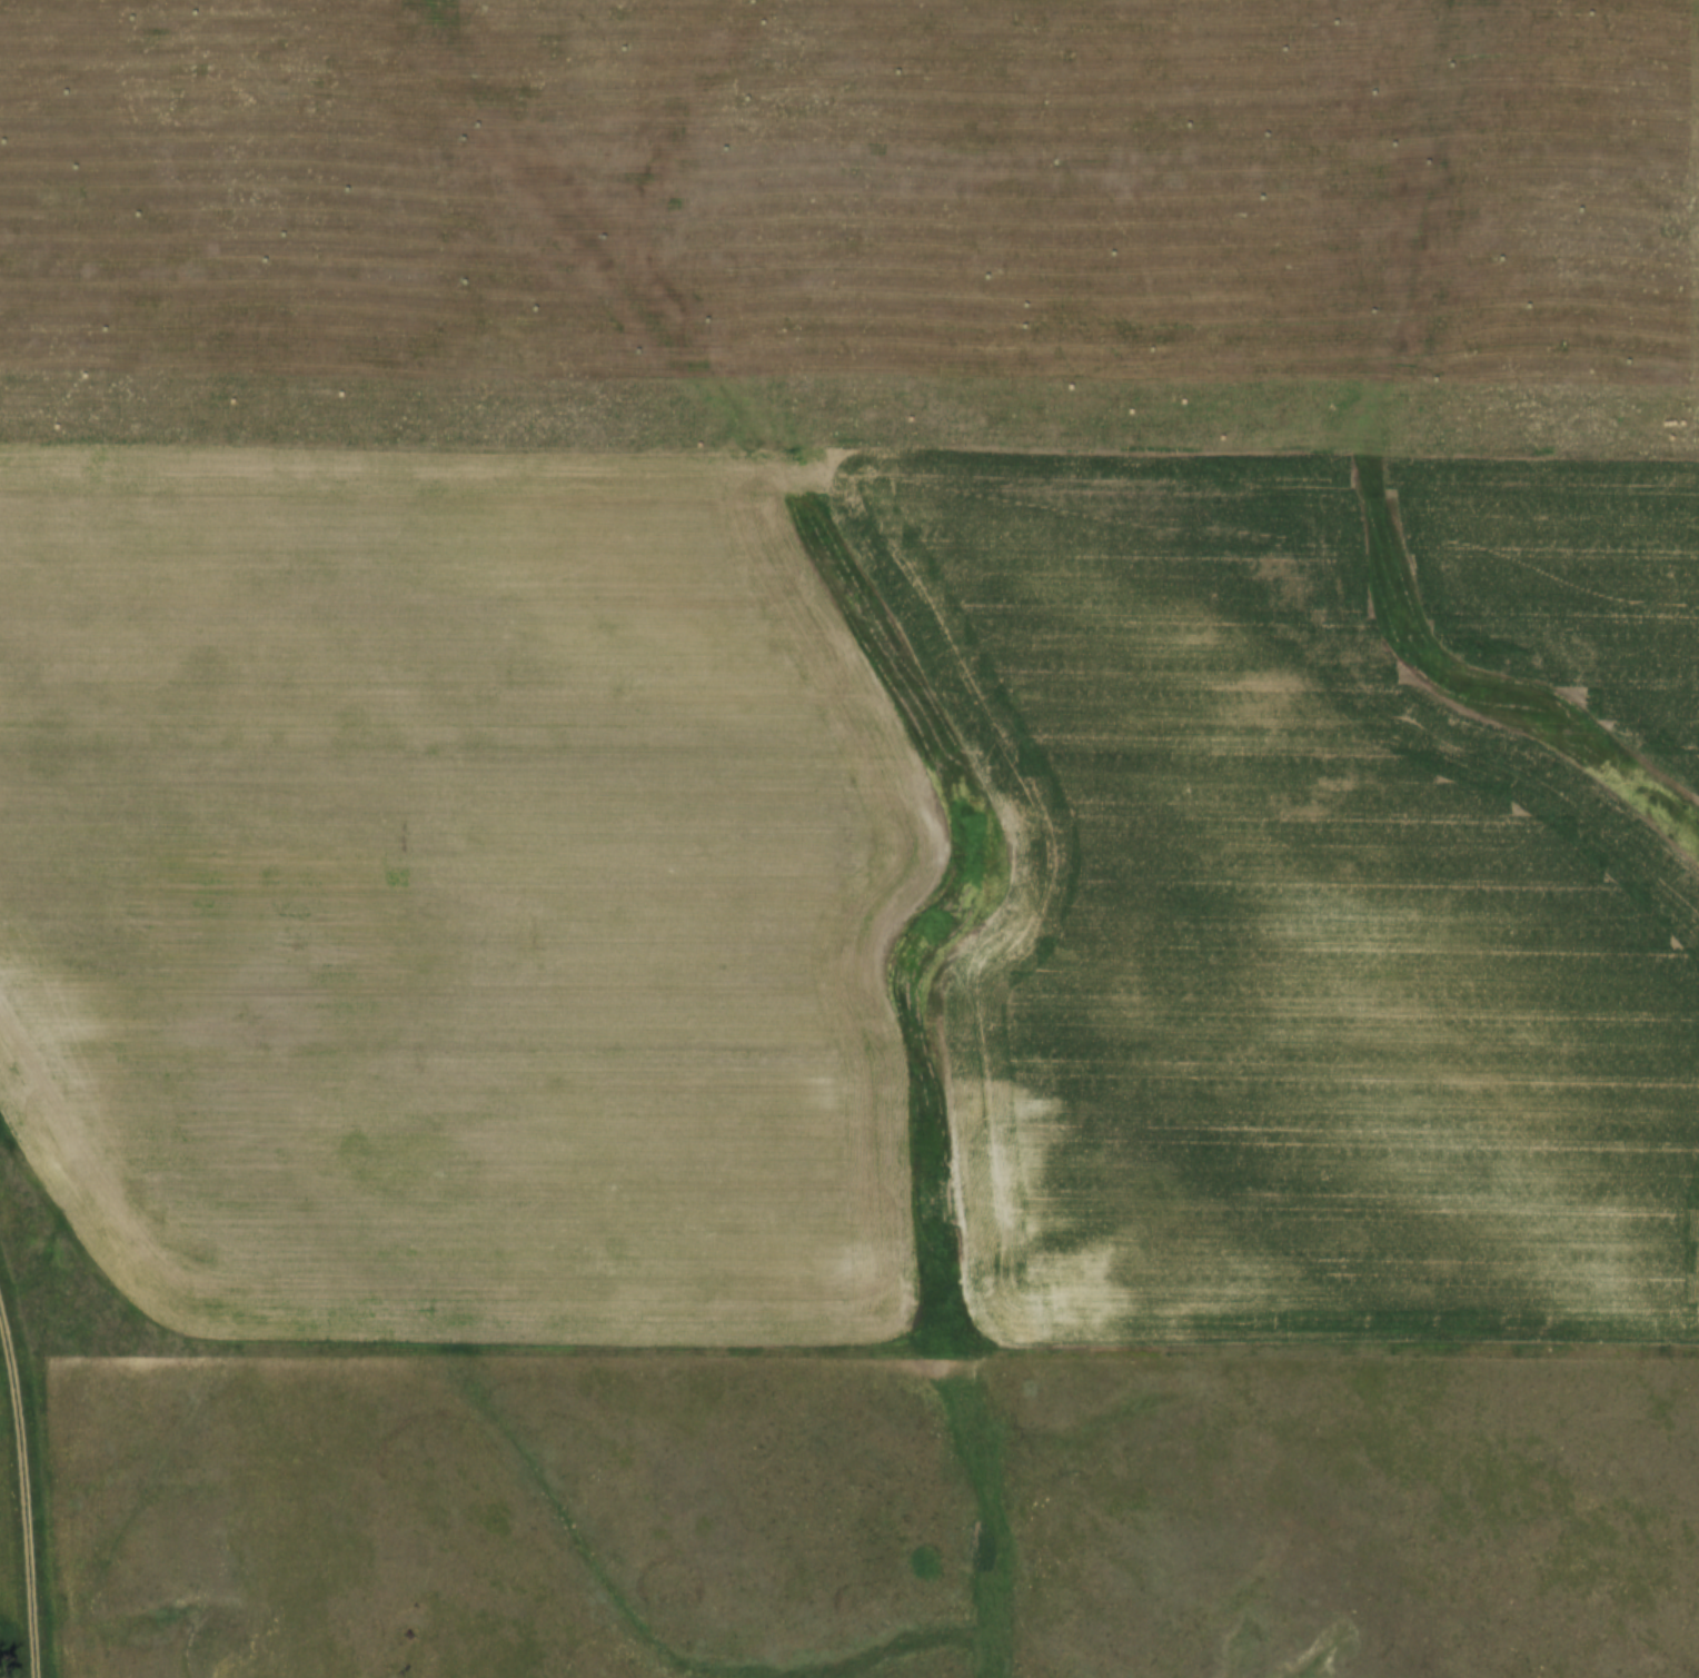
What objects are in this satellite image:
road: (29, 1487)

